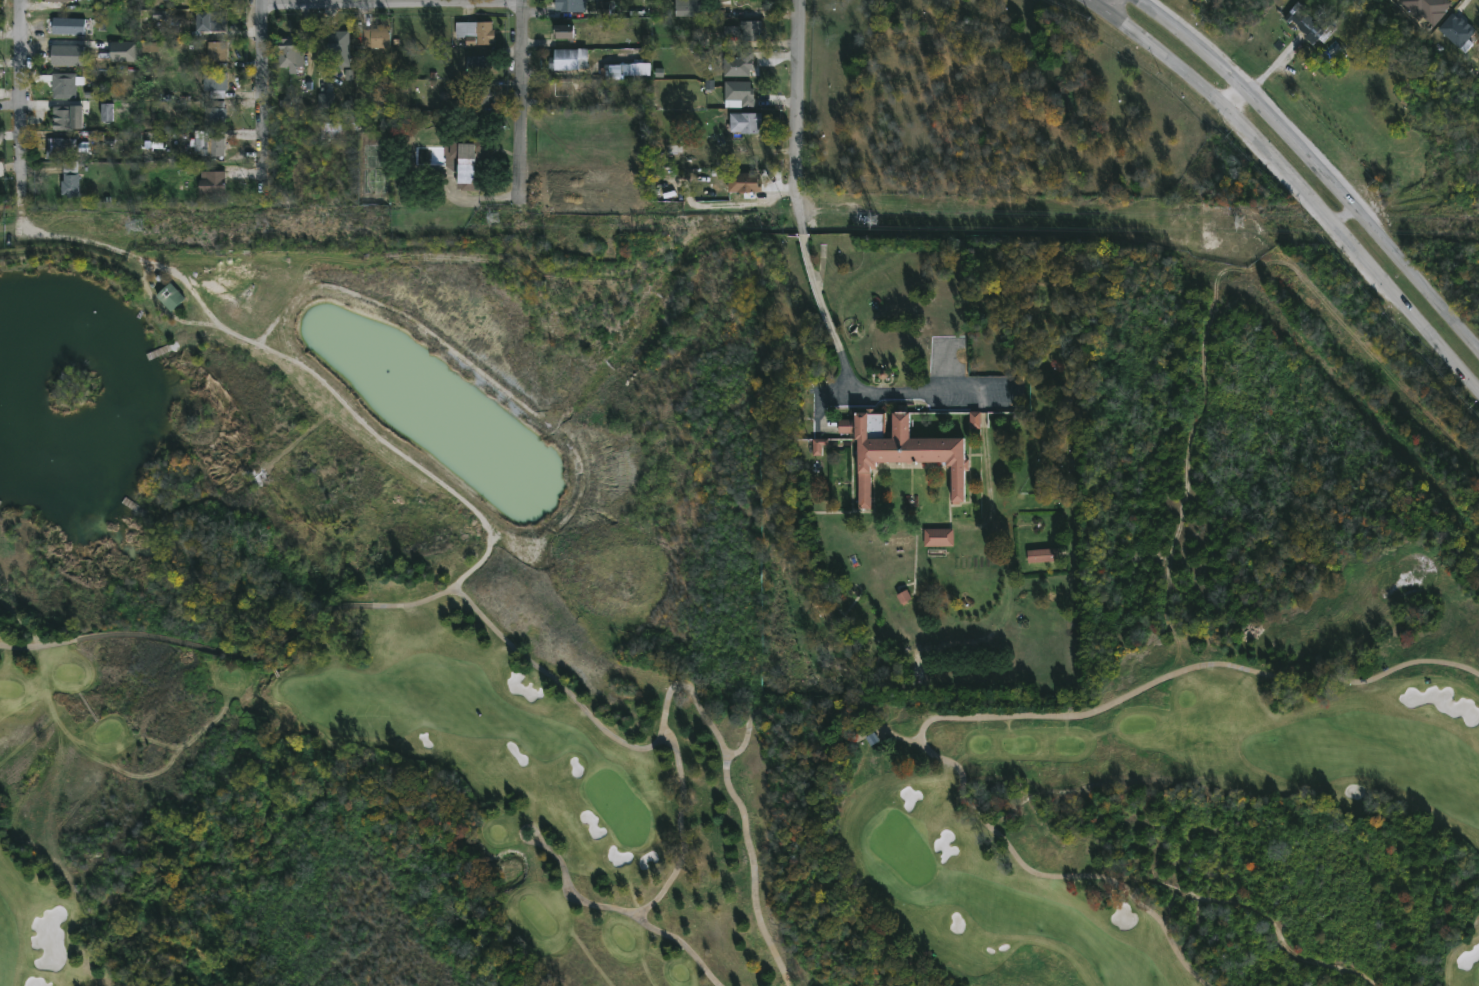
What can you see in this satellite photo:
building: (58, 0)
road: (394, 1)
building: (206, 3)
building: (570, 5)
building: (692, 7)
building: (211, 20)
building: (1304, 22)
building: (68, 25)
building: (750, 29)
building: (1457, 30)
building: (474, 33)
building: (563, 35)
building: (377, 37)
building: (713, 40)
building: (338, 49)
building: (124, 51)
building: (217, 51)
building: (290, 54)
building: (67, 55)
building: (568, 58)
building: (739, 64)
building: (478, 65)
building: (605, 68)
building: (64, 84)
building: (216, 84)
building: (564, 88)
building: (741, 92)
road: (266, 95)
building: (475, 95)
road: (523, 98)
building: (216, 114)
building: (62, 117)
road: (23, 120)
building: (746, 122)
building: (337, 124)
road: (12, 134)
building: (210, 145)
building: (59, 147)
building: (467, 159)
road: (1314, 168)
road: (1291, 177)
building: (70, 179)
building: (745, 182)
building: (213, 183)
road: (795, 183)
road: (1345, 219)
power tower: (871, 221)
power tower: (1239, 224)
power tower: (499, 227)
power tower: (139, 229)
building: (169, 297)
road: (914, 392)
road: (816, 396)
building: (903, 451)
building: (939, 537)
building: (1044, 556)
road: (521, 654)
road: (1001, 719)
park: (740, 798)
park: (902, 848)

